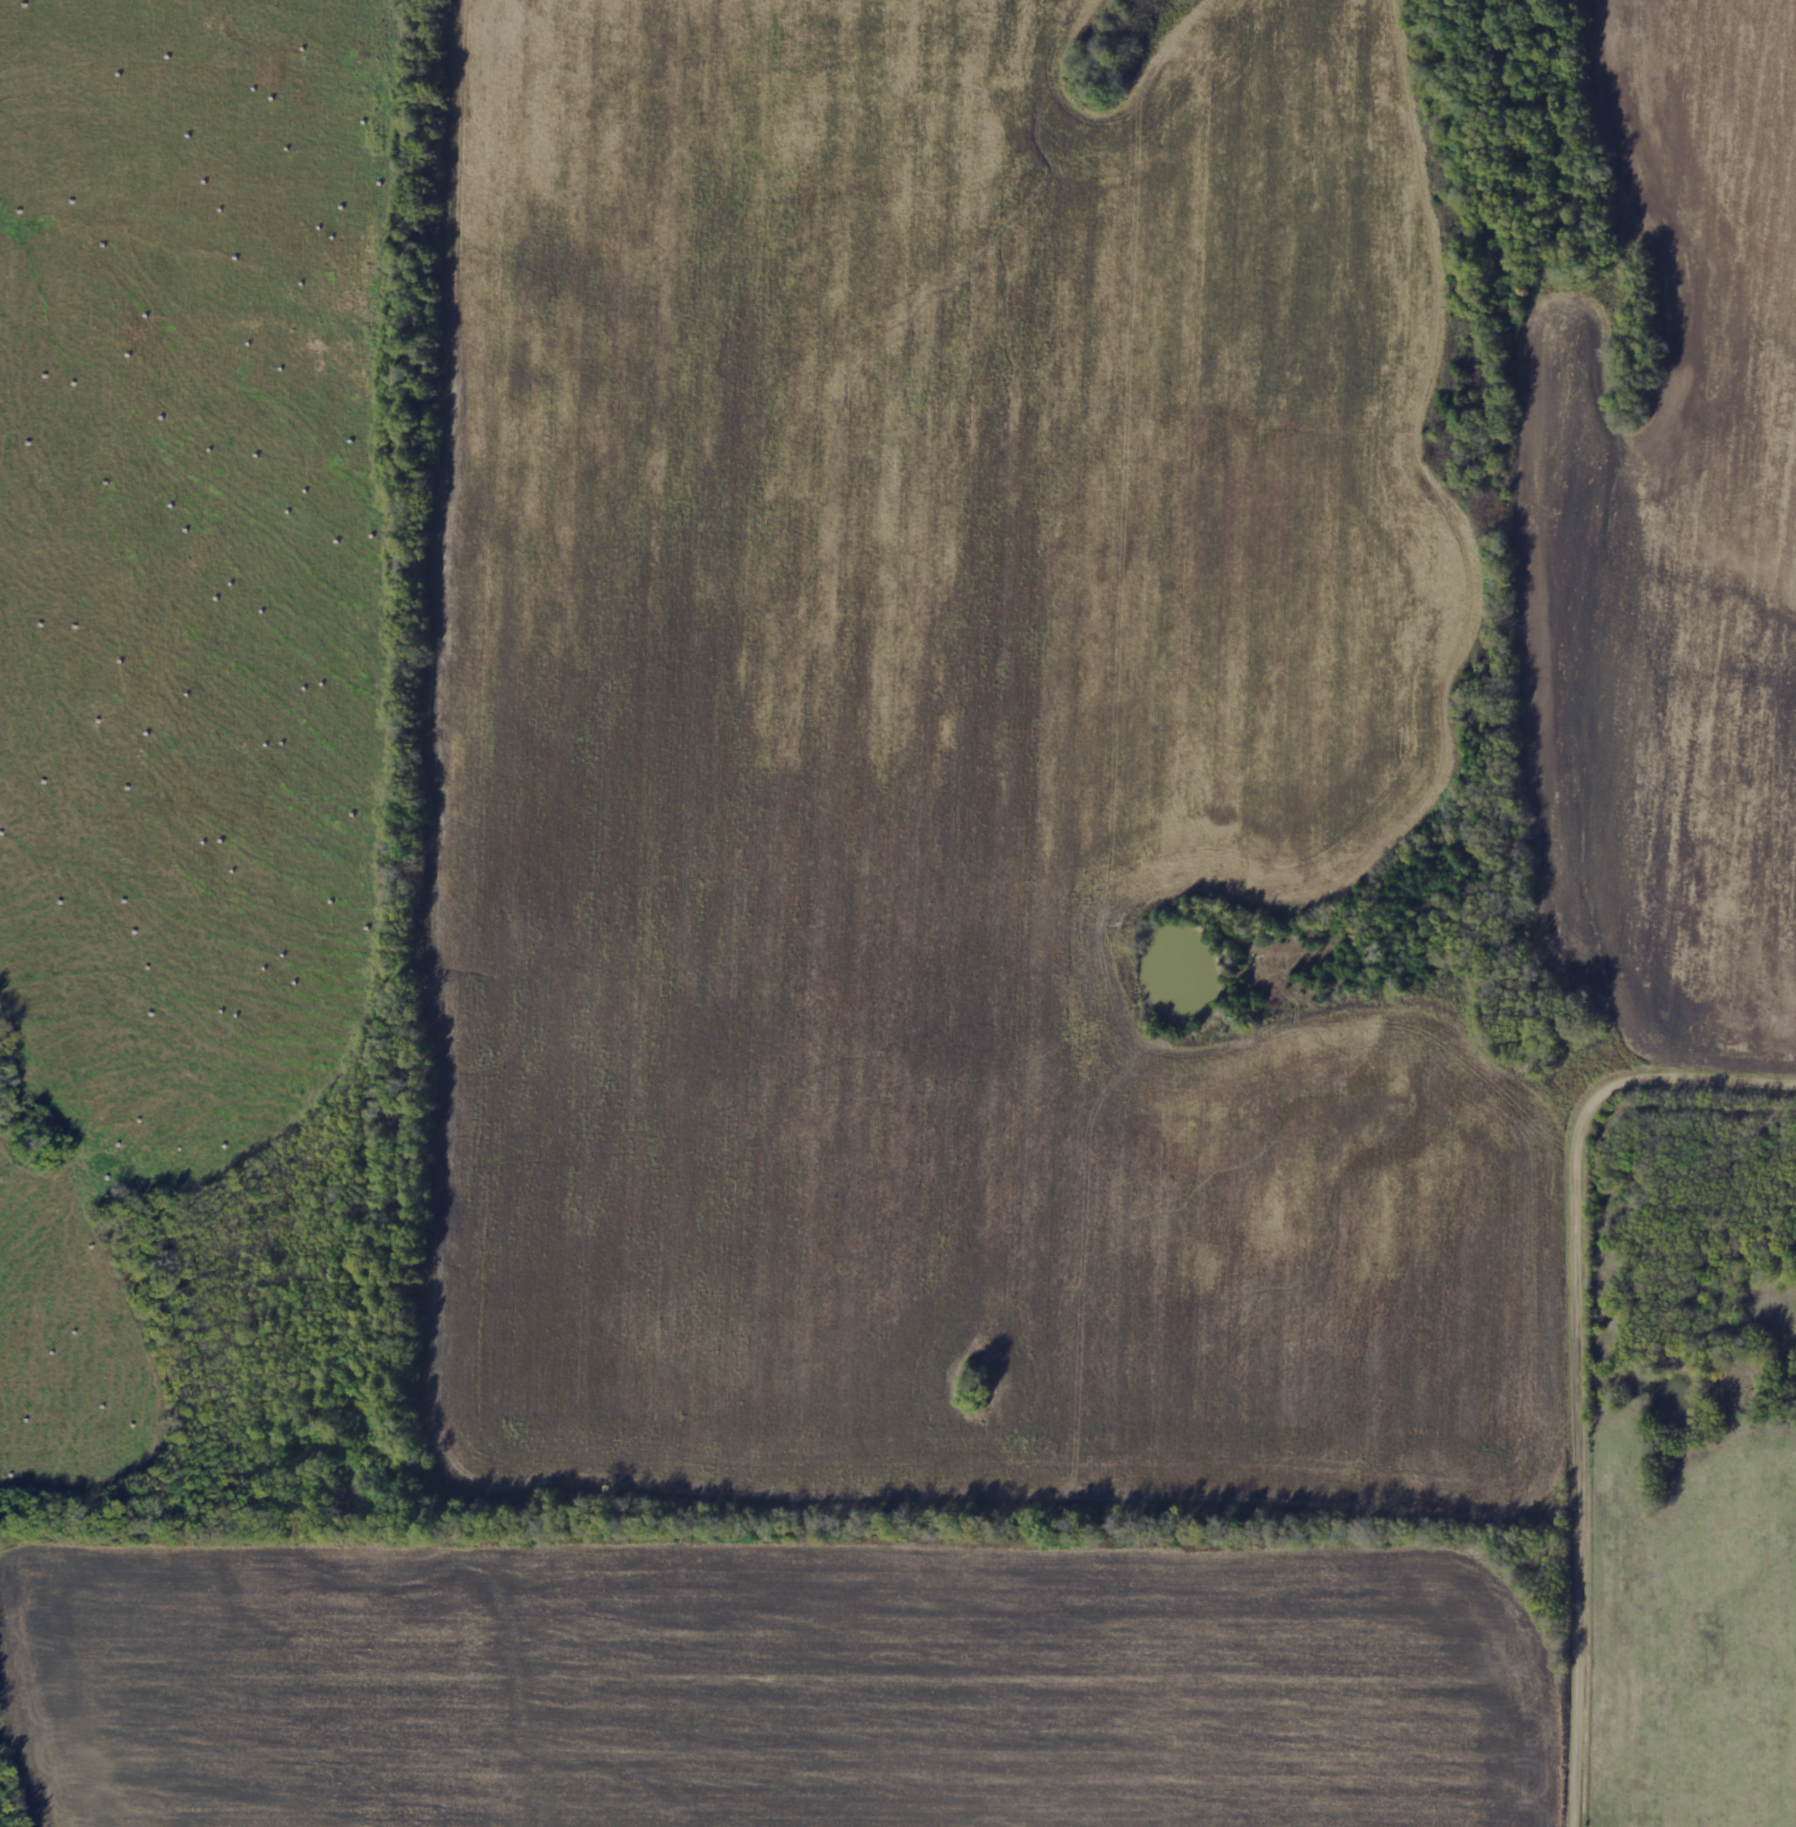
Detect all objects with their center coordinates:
road: (1583, 1359)

